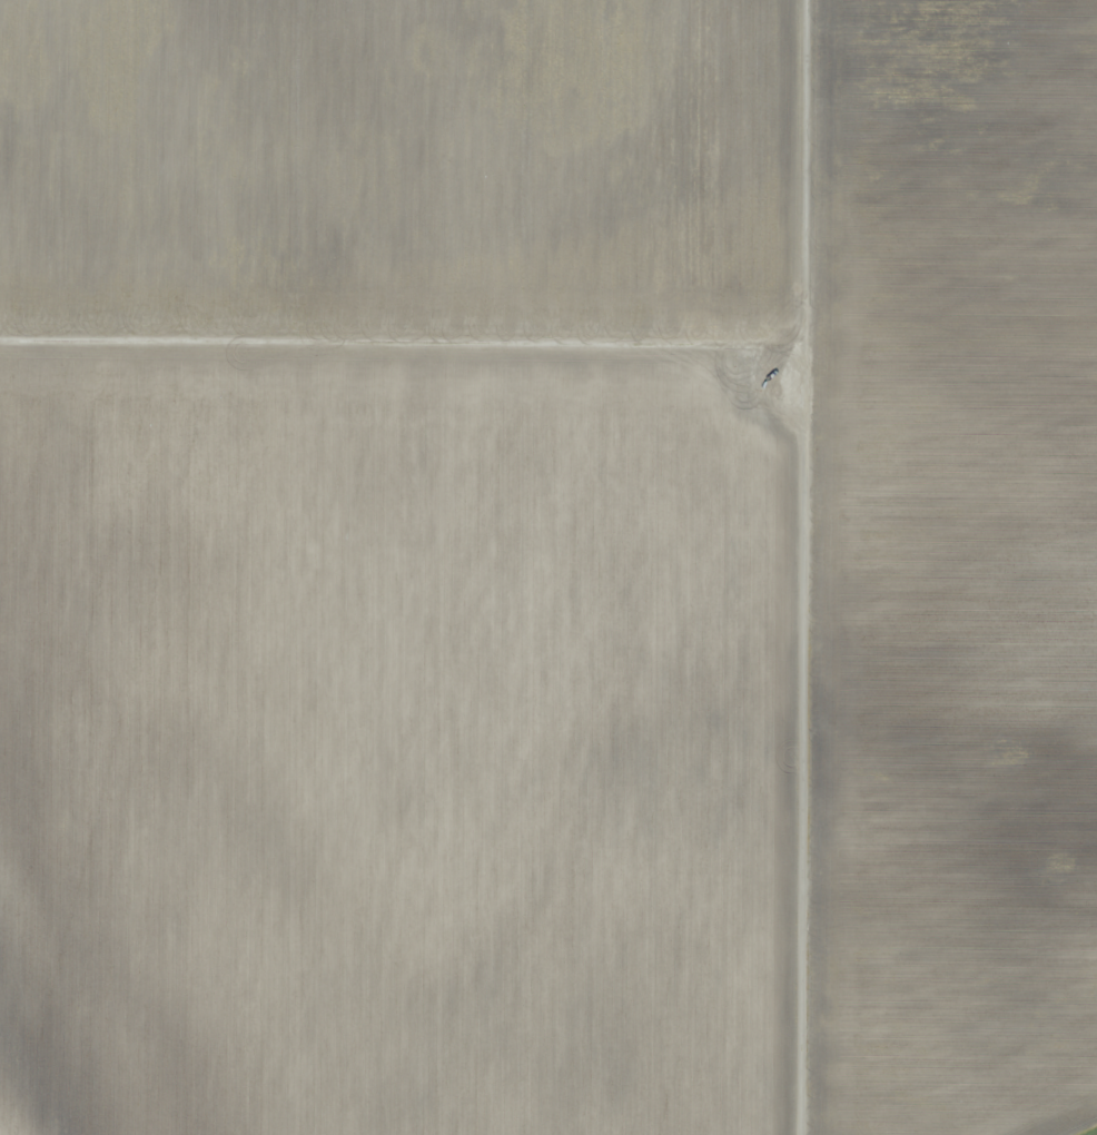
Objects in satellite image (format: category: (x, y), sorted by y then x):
road: (802, 567)

